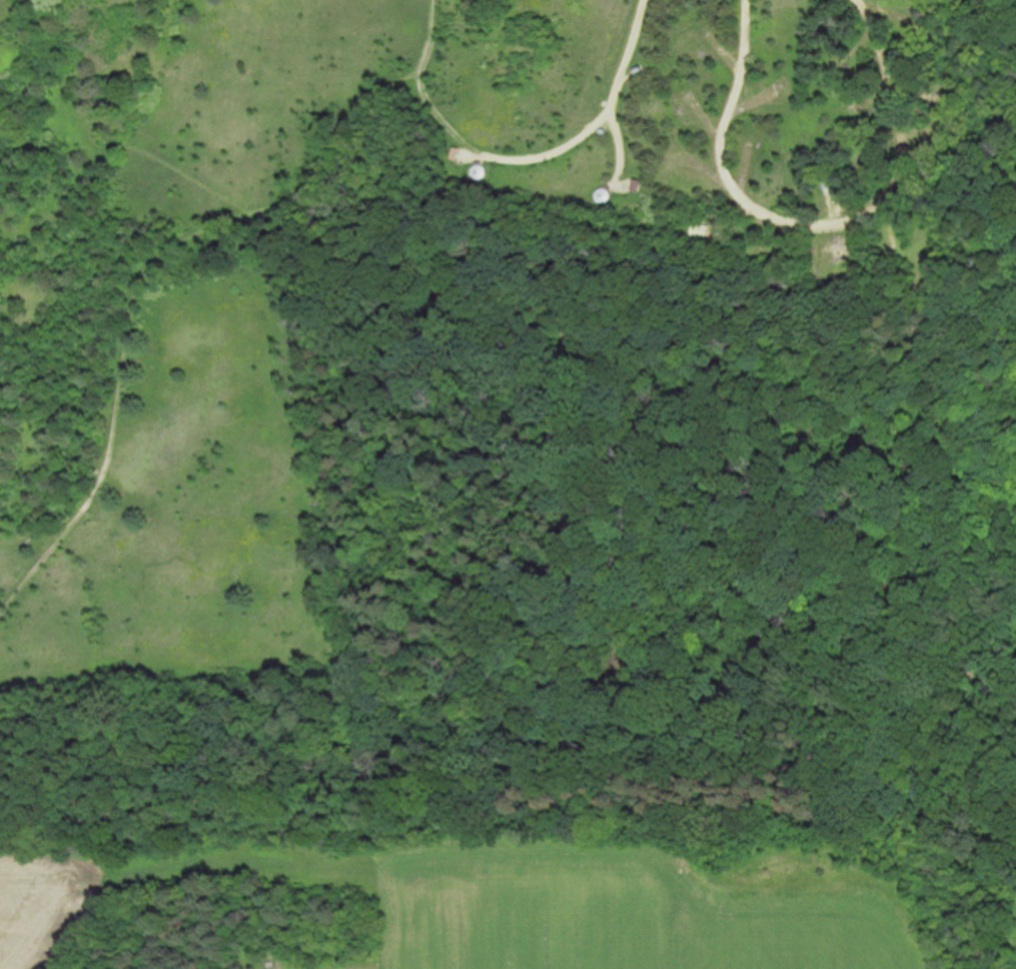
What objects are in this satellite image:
building: (704, 41)
building: (690, 87)
road: (600, 117)
road: (821, 221)
road: (154, 253)
park: (507, 425)
road: (513, 796)

